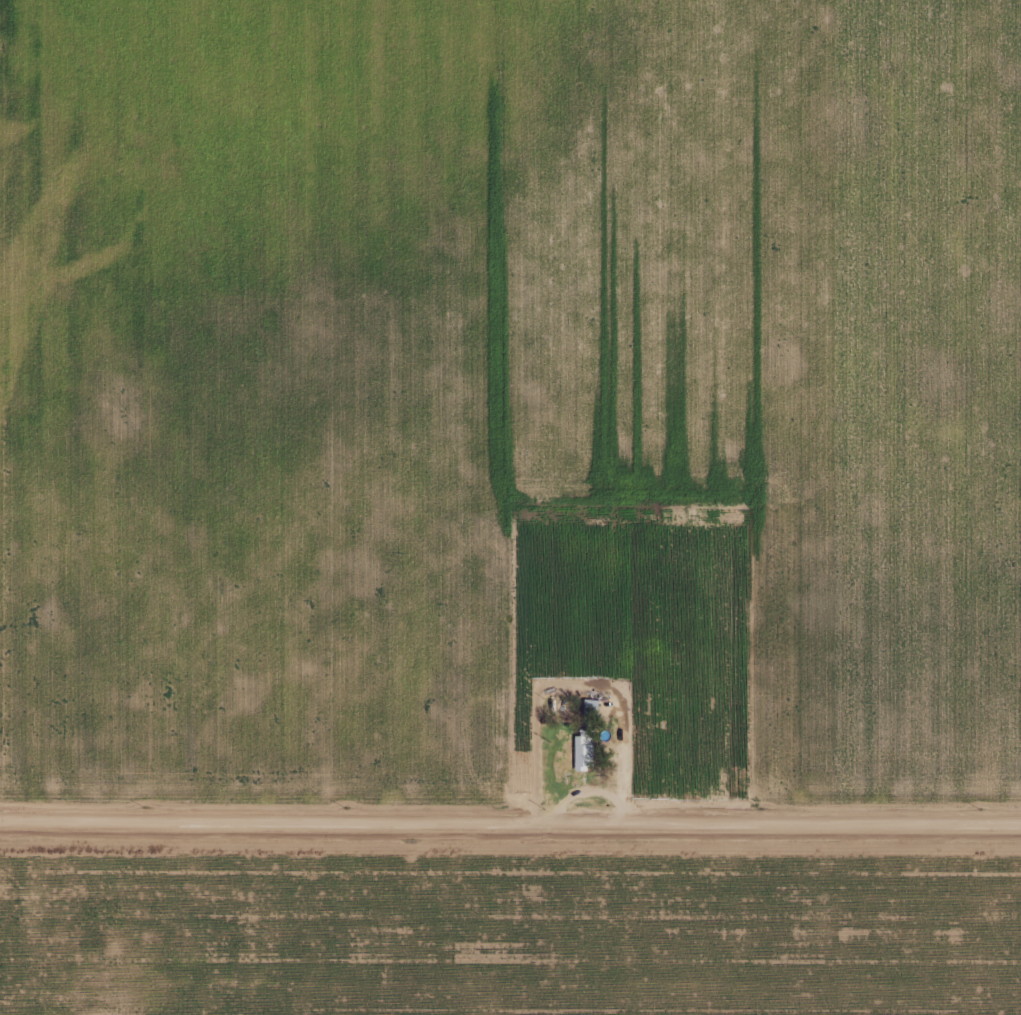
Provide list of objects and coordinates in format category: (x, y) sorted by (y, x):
road: (510, 791)

